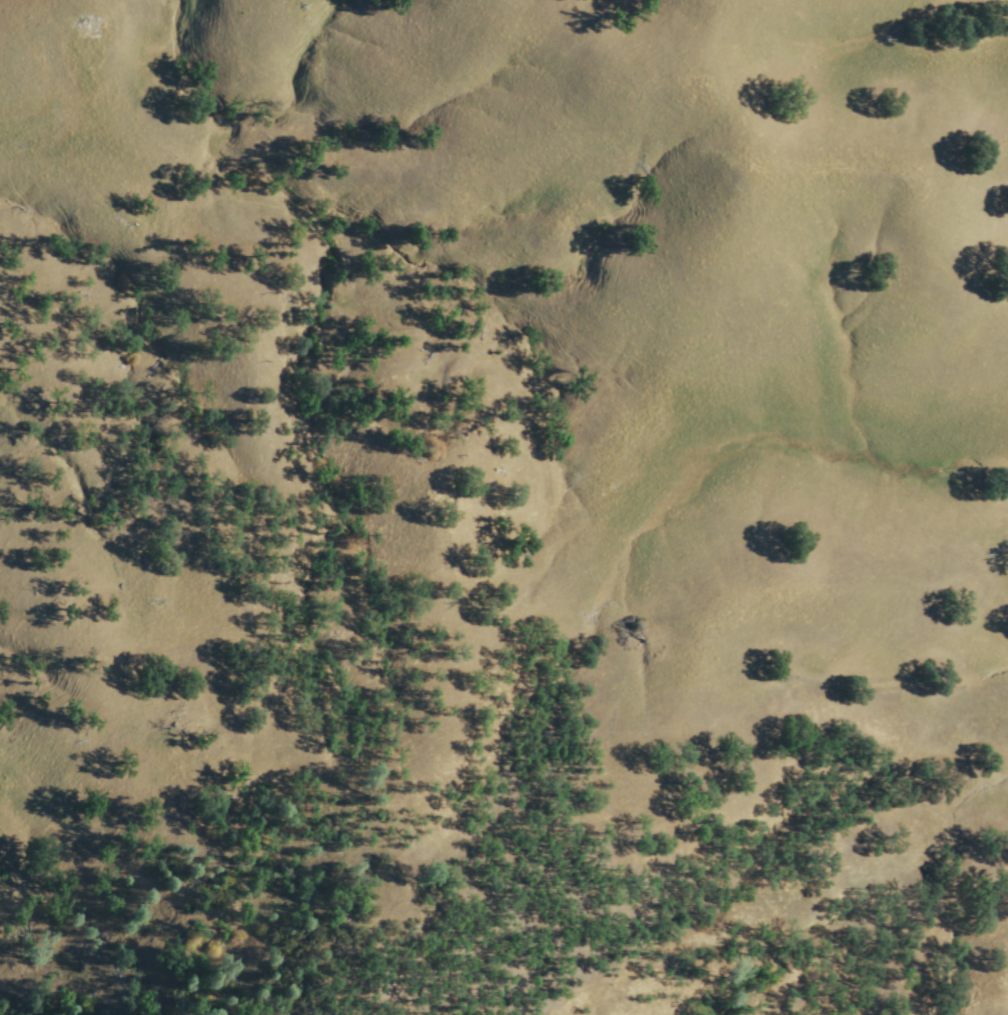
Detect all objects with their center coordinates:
road: (787, 285)
road: (933, 522)
road: (1005, 614)

